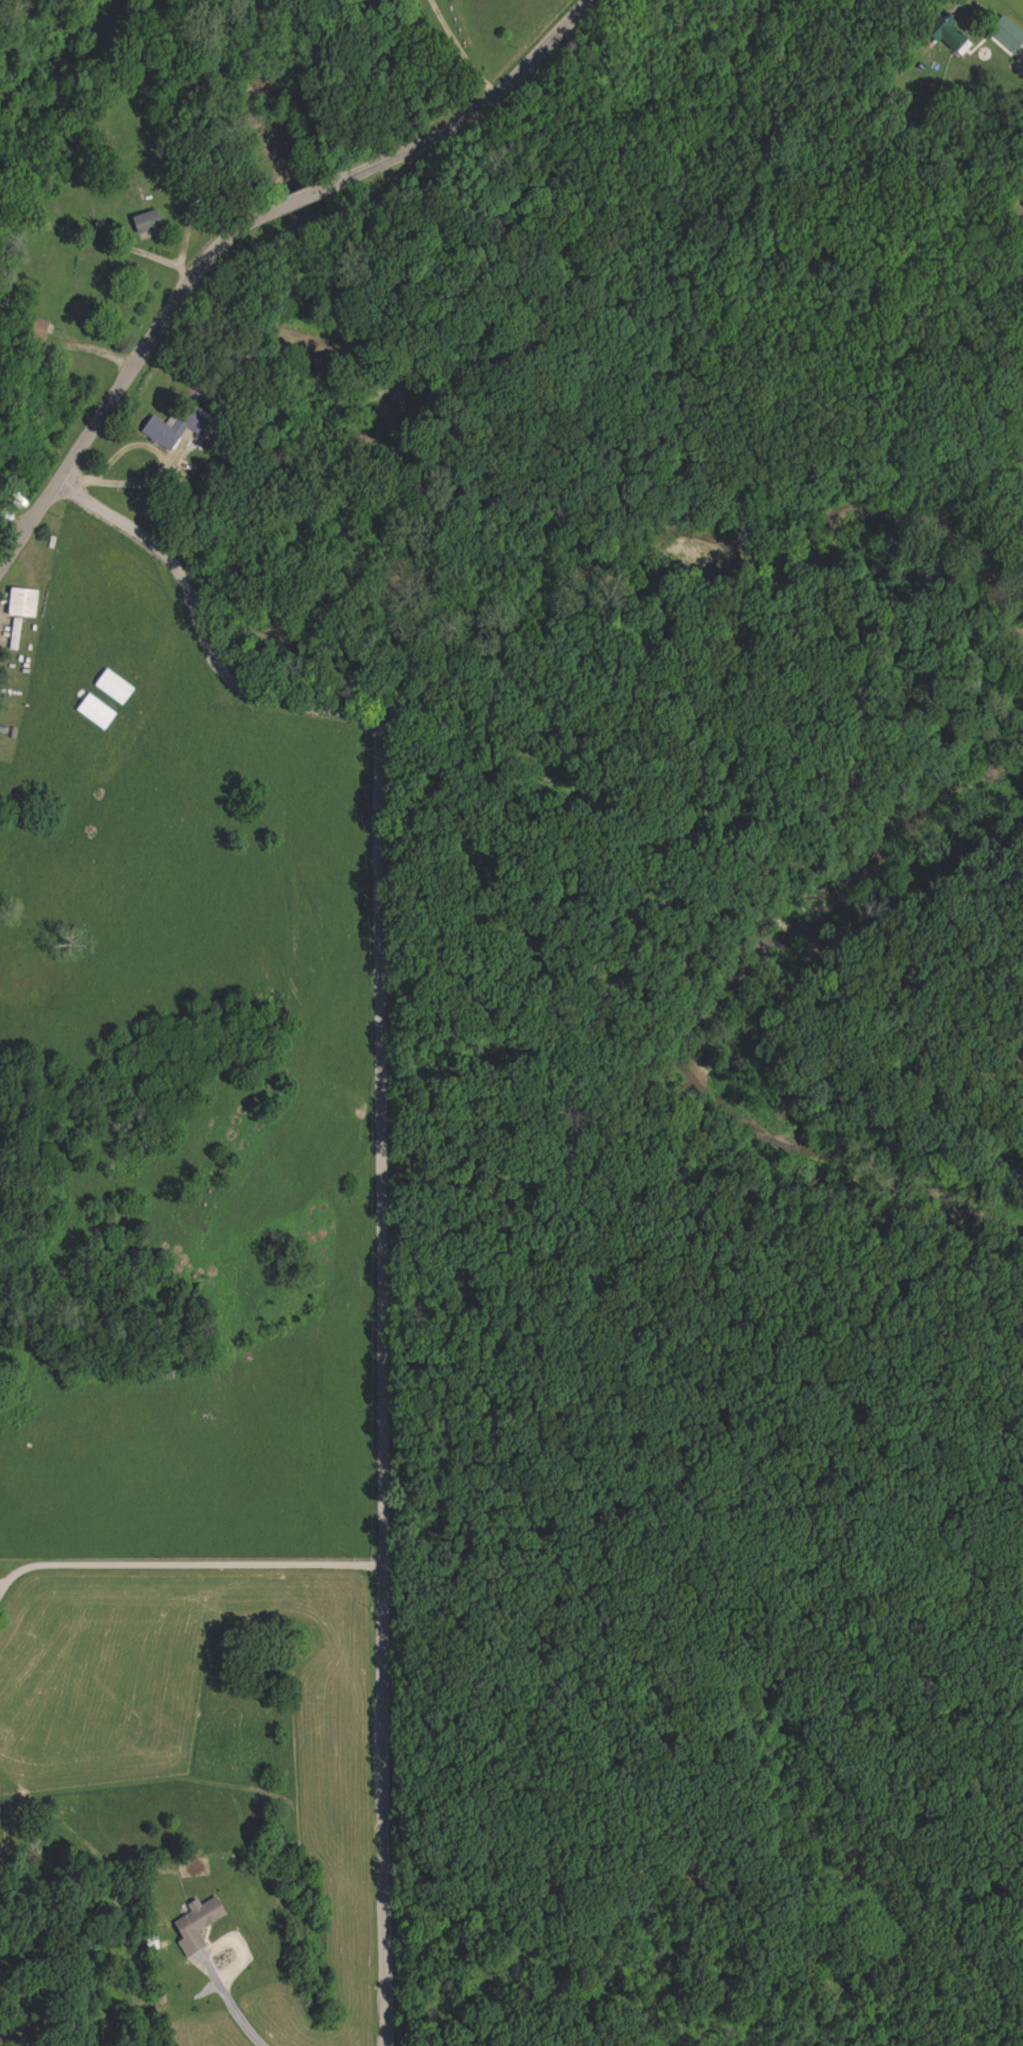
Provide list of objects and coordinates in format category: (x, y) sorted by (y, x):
building: (1008, 35)
building: (953, 39)
road: (480, 89)
building: (147, 224)
building: (39, 331)
road: (161, 345)
building: (164, 433)
road: (968, 475)
building: (24, 604)
building: (17, 635)
road: (218, 643)
building: (115, 688)
building: (97, 712)
road: (761, 1086)
road: (380, 1405)
road: (191, 1581)
building: (198, 1924)

